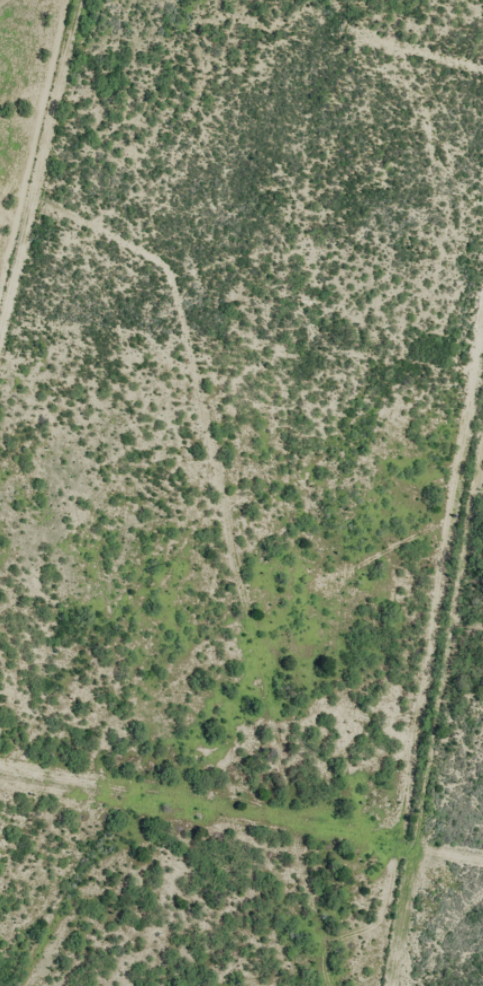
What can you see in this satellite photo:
road: (248, 485)

